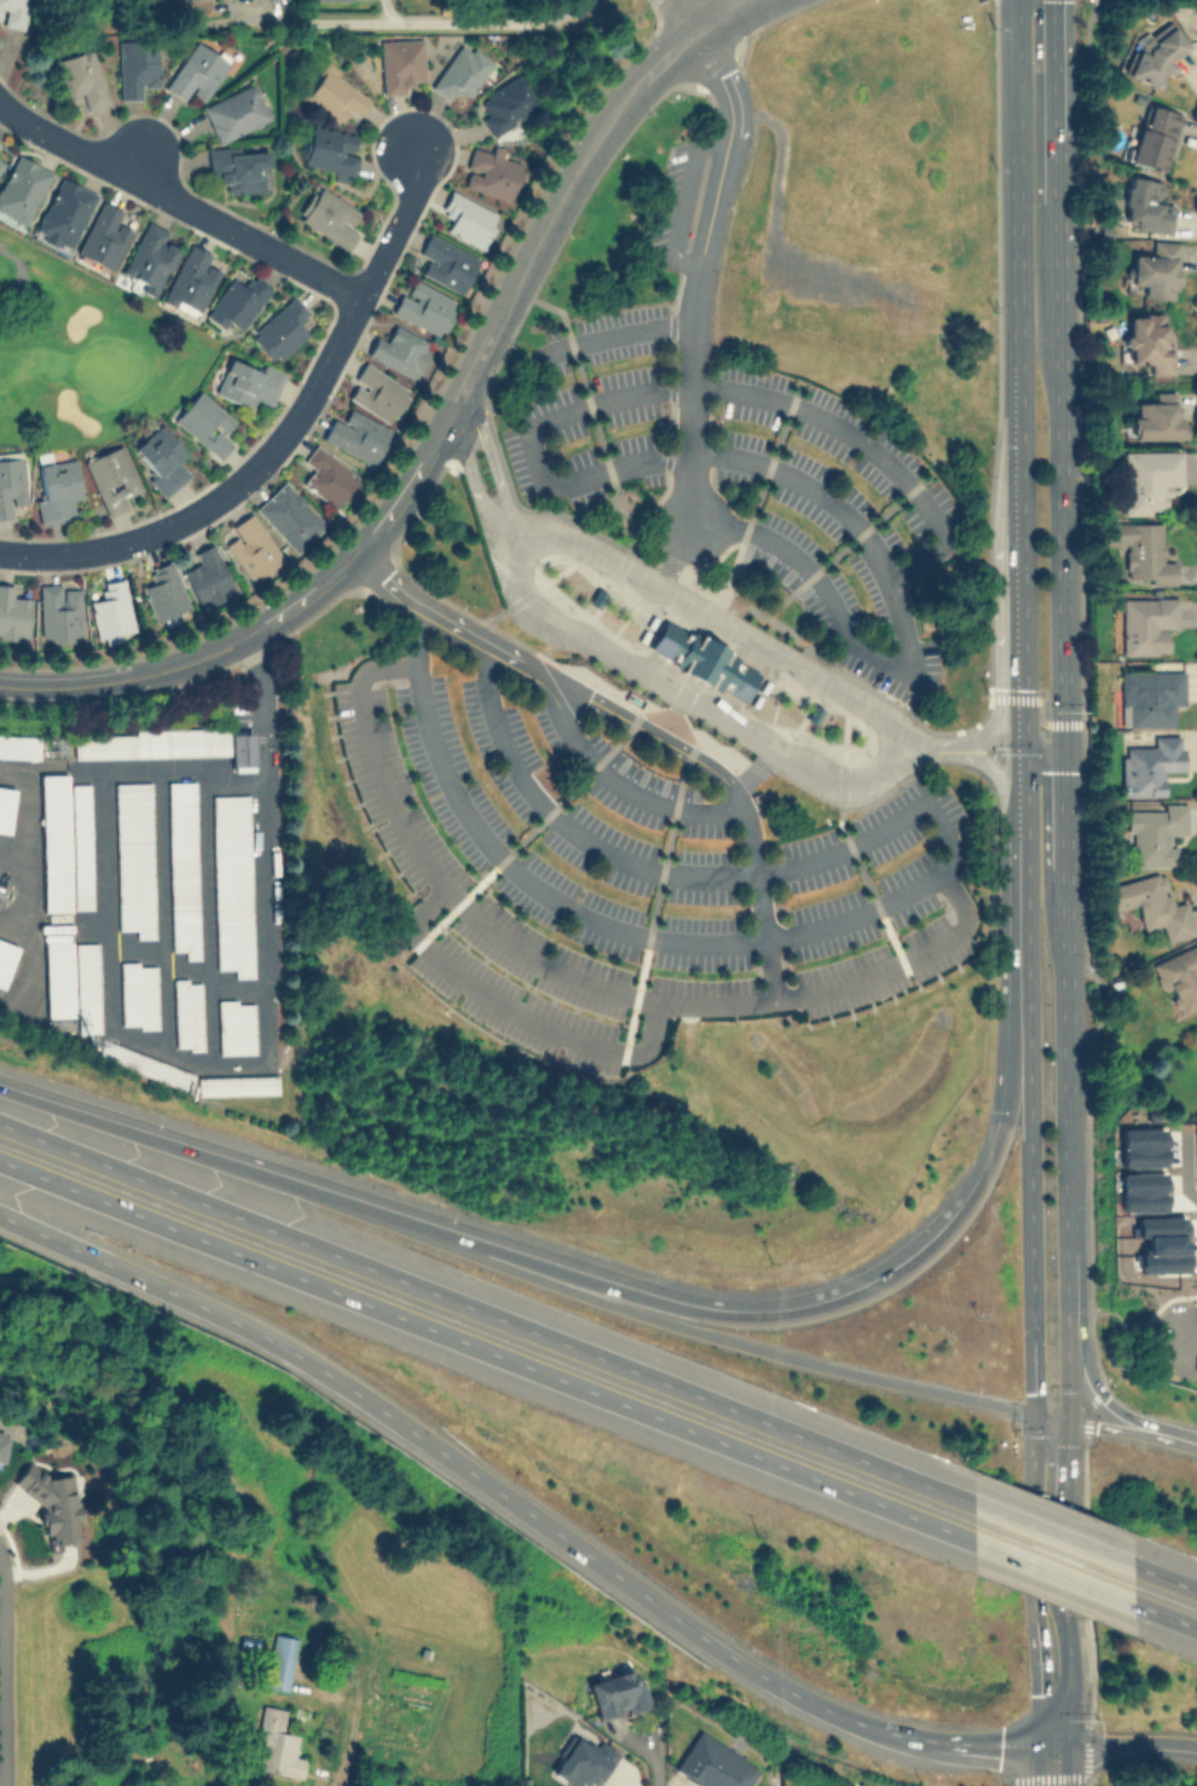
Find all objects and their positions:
building: (190, 2)
building: (12, 11)
road: (711, 13)
road: (677, 15)
road: (391, 22)
building: (1155, 54)
building: (400, 63)
building: (135, 68)
building: (462, 70)
building: (196, 71)
building: (80, 79)
building: (335, 97)
building: (508, 103)
building: (235, 111)
building: (1153, 135)
building: (328, 149)
building: (1, 163)
building: (238, 167)
building: (491, 170)
building: (21, 189)
road: (563, 195)
road: (684, 197)
road: (177, 202)
parking lot: (663, 202)
building: (1145, 203)
building: (63, 213)
building: (329, 214)
building: (468, 218)
road: (395, 222)
building: (102, 236)
building: (148, 256)
building: (446, 261)
road: (1017, 266)
road: (699, 267)
building: (1156, 268)
road: (18, 276)
building: (190, 281)
building: (236, 301)
building: (423, 306)
building: (281, 329)
road: (613, 336)
building: (1147, 339)
building: (400, 349)
park: (85, 351)
road: (490, 357)
road: (476, 358)
road: (1063, 362)
building: (248, 382)
road: (452, 389)
building: (376, 392)
road: (748, 394)
building: (1156, 416)
building: (206, 422)
road: (594, 423)
road: (472, 428)
building: (355, 435)
road: (485, 438)
building: (161, 457)
road: (467, 466)
building: (111, 476)
building: (328, 476)
parking lot: (747, 476)
building: (1147, 479)
building: (11, 481)
building: (56, 489)
road: (224, 490)
road: (754, 499)
building: (290, 515)
road: (505, 532)
road: (568, 532)
building: (251, 547)
building: (1140, 550)
road: (675, 551)
road: (838, 553)
road: (997, 556)
road: (641, 573)
building: (208, 576)
road: (329, 580)
road: (531, 590)
building: (164, 591)
road: (717, 591)
road: (517, 596)
road: (688, 600)
building: (59, 611)
building: (111, 611)
building: (12, 613)
road: (725, 617)
building: (1145, 623)
road: (482, 632)
road: (745, 632)
road: (1019, 637)
road: (591, 643)
building: (702, 659)
road: (809, 669)
road: (661, 683)
road: (73, 684)
building: (1149, 695)
road: (875, 707)
road: (1043, 707)
road: (806, 709)
road: (719, 715)
road: (635, 727)
road: (989, 741)
traffic signals: (1022, 741)
building: (156, 742)
building: (18, 745)
building: (241, 748)
road: (1068, 748)
road: (927, 750)
road: (1046, 753)
building: (1149, 764)
road: (12, 765)
road: (817, 770)
traffic signals: (1068, 773)
road: (997, 776)
road: (1022, 778)
road: (24, 786)
road: (620, 786)
building: (5, 807)
road: (553, 807)
building: (1155, 832)
building: (54, 840)
road: (845, 840)
building: (81, 845)
building: (134, 857)
road: (13, 861)
building: (183, 868)
road: (1047, 869)
parking lot: (626, 873)
road: (658, 878)
building: (232, 884)
road: (913, 891)
road: (104, 895)
building: (1152, 904)
road: (162, 908)
road: (207, 918)
road: (1024, 926)
road: (266, 935)
road: (137, 944)
building: (5, 958)
building: (1179, 977)
building: (58, 978)
road: (577, 979)
building: (87, 987)
building: (138, 994)
building: (186, 1013)
road: (511, 1013)
building: (58, 1023)
building: (235, 1025)
road: (1069, 1035)
road: (1091, 1050)
building: (144, 1063)
building: (236, 1083)
building: (1139, 1146)
building: (1140, 1191)
road: (1030, 1233)
road: (576, 1268)
road: (690, 1297)
road: (487, 1313)
road: (652, 1317)
road: (1191, 1336)
road: (487, 1351)
road: (1140, 1357)
road: (1069, 1362)
road: (1101, 1397)
road: (1093, 1403)
traffic signals: (1053, 1424)
road: (1126, 1430)
road: (1087, 1433)
building: (2, 1444)
road: (1087, 1458)
road: (468, 1469)
road: (1056, 1534)
road: (1, 1567)
road: (1092, 1567)
road: (1083, 1568)
road: (1057, 1572)
road: (1166, 1578)
road: (1053, 1588)
road: (1167, 1616)
building: (279, 1660)
road: (2, 1678)
building: (615, 1693)
road: (1089, 1693)
road: (1089, 1738)
building: (272, 1744)
road: (1124, 1745)
road: (989, 1750)
traffic signals: (1054, 1751)
building: (583, 1762)
building: (712, 1763)
road: (1051, 1768)
road: (1085, 1779)

